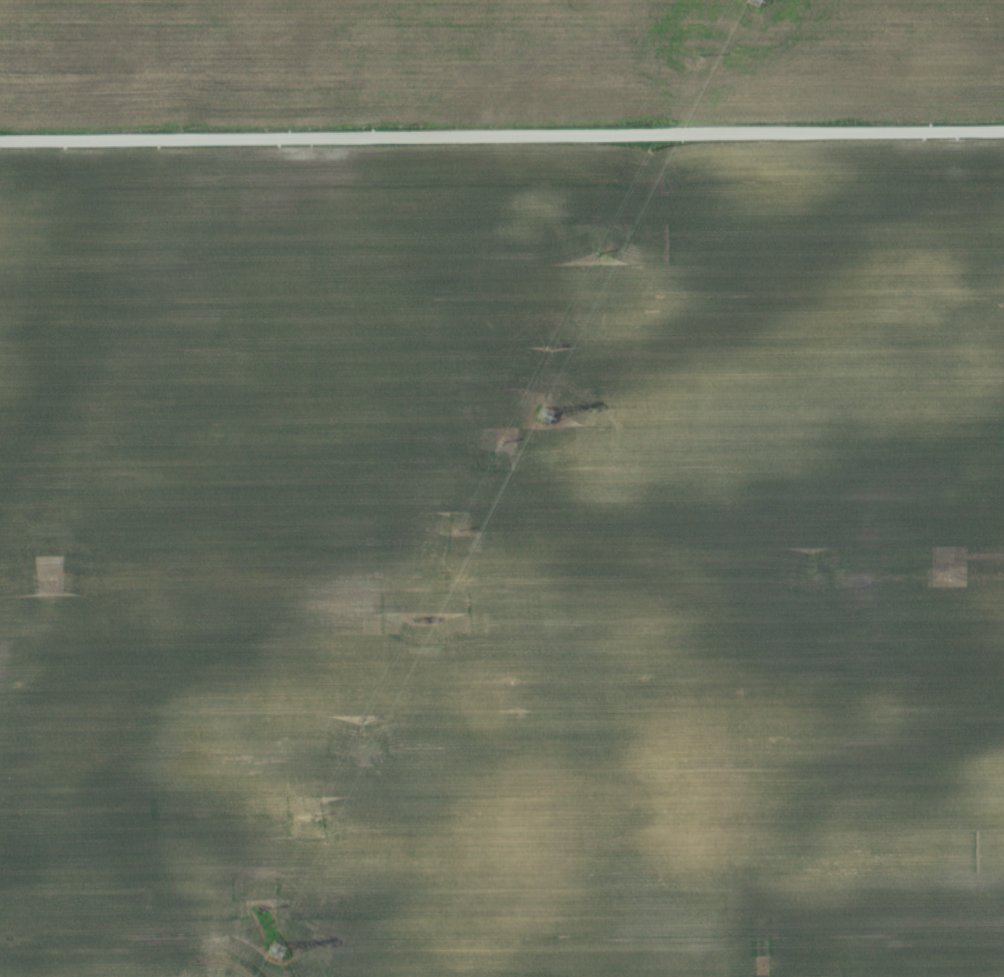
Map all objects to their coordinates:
road: (501, 130)

